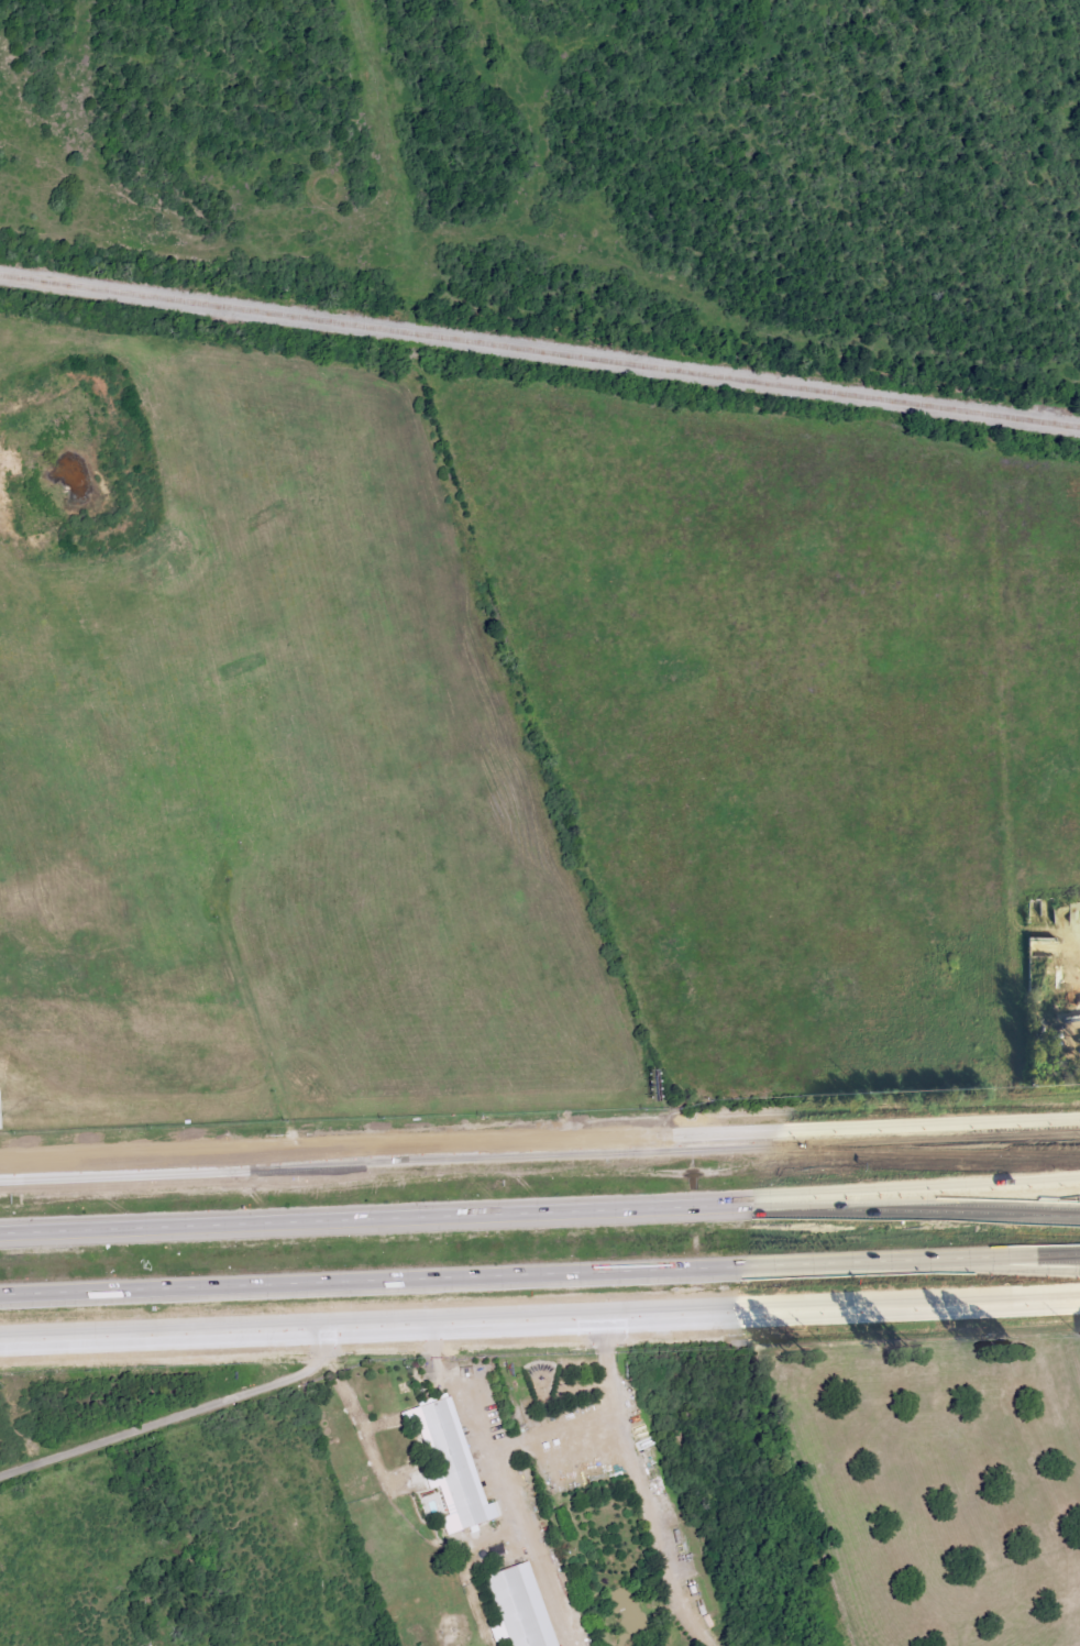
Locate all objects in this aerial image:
railway: (540, 350)
road: (835, 1133)
road: (836, 1155)
road: (296, 1157)
road: (540, 1217)
road: (540, 1271)
road: (540, 1325)
road: (173, 1415)
road: (617, 1416)
road: (483, 1428)
road: (553, 1428)
building: (454, 1466)
building: (521, 1609)

